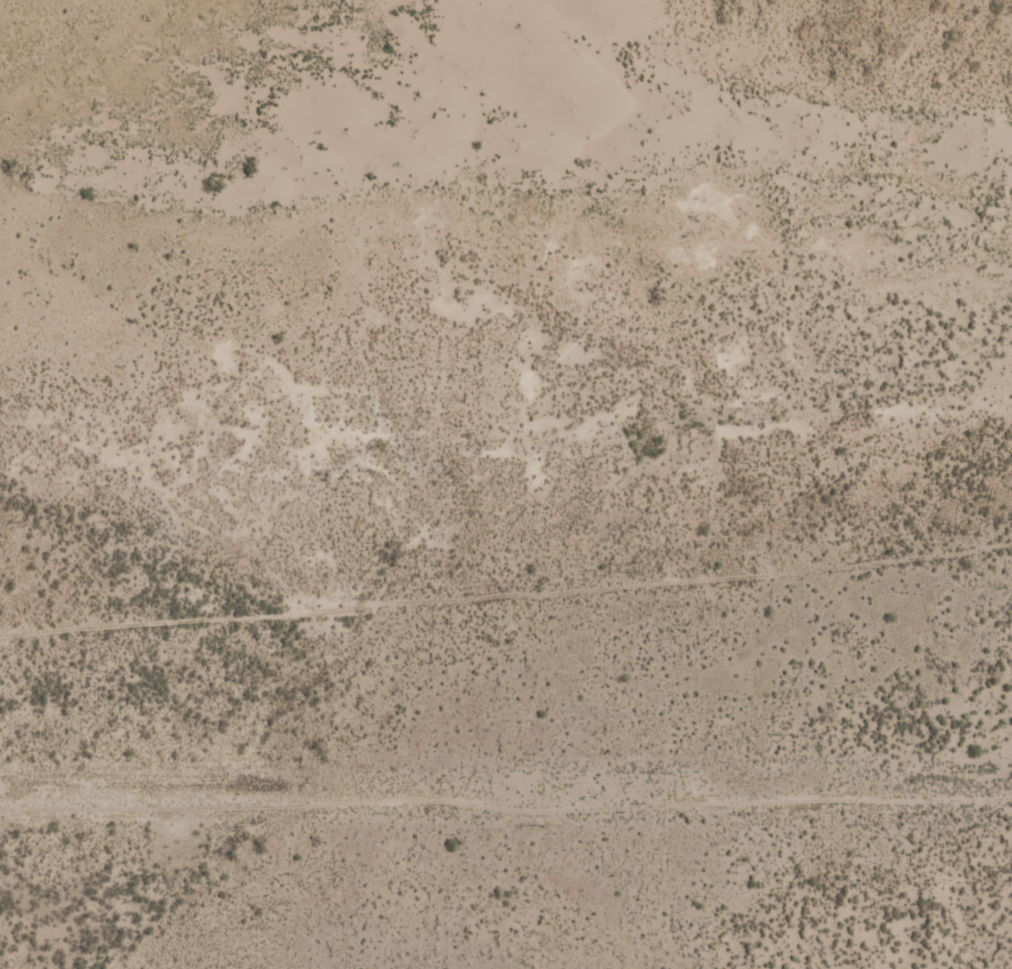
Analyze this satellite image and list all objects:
road: (506, 590)

